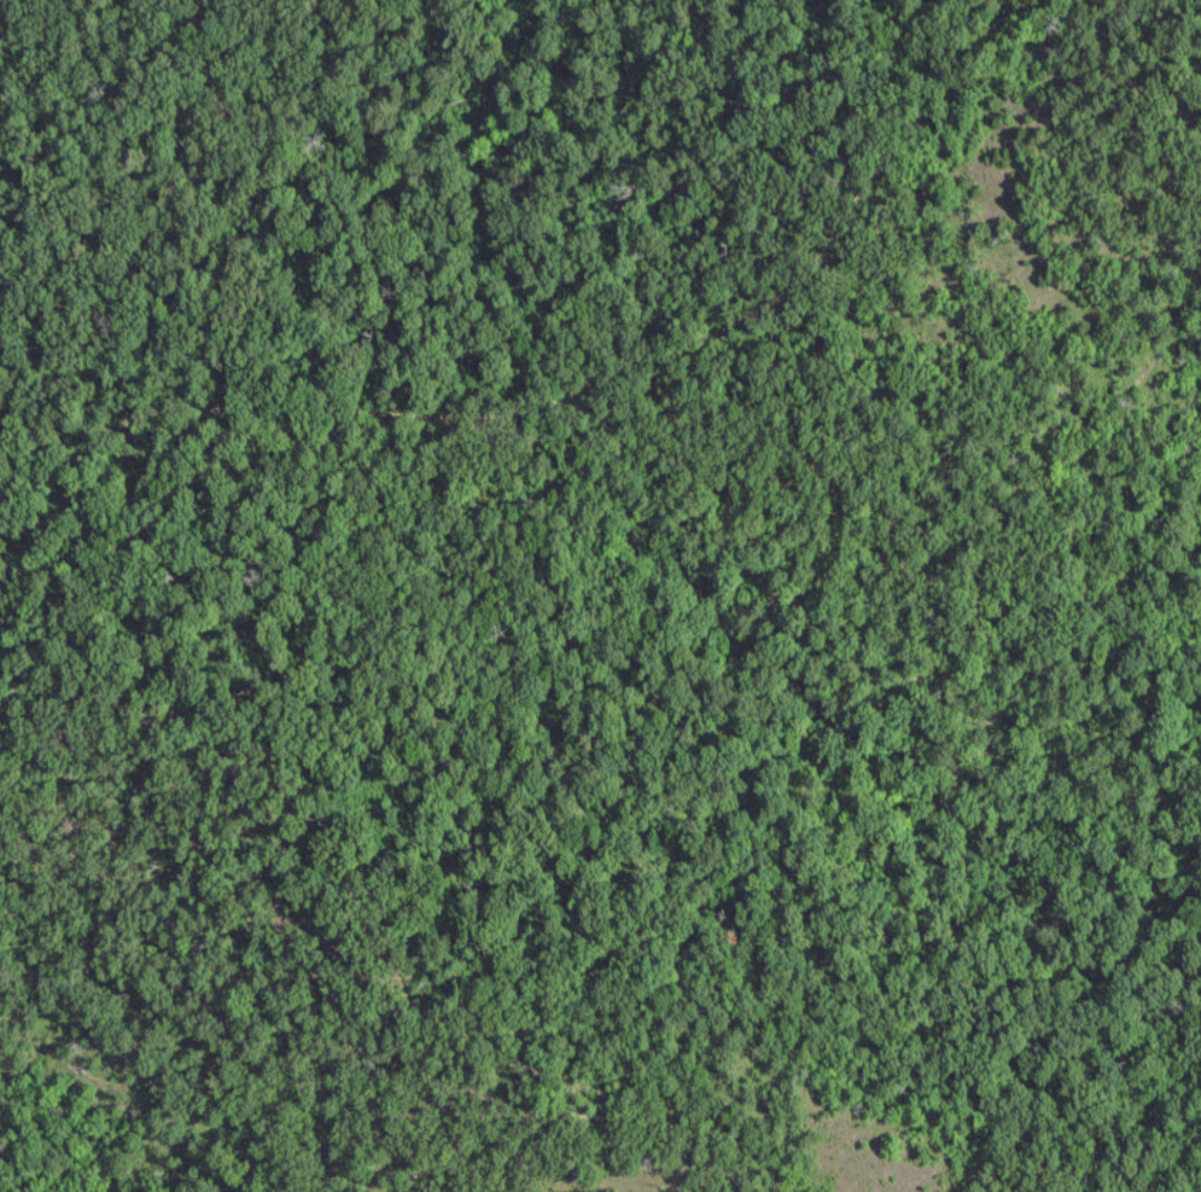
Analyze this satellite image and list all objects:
road: (570, 386)

